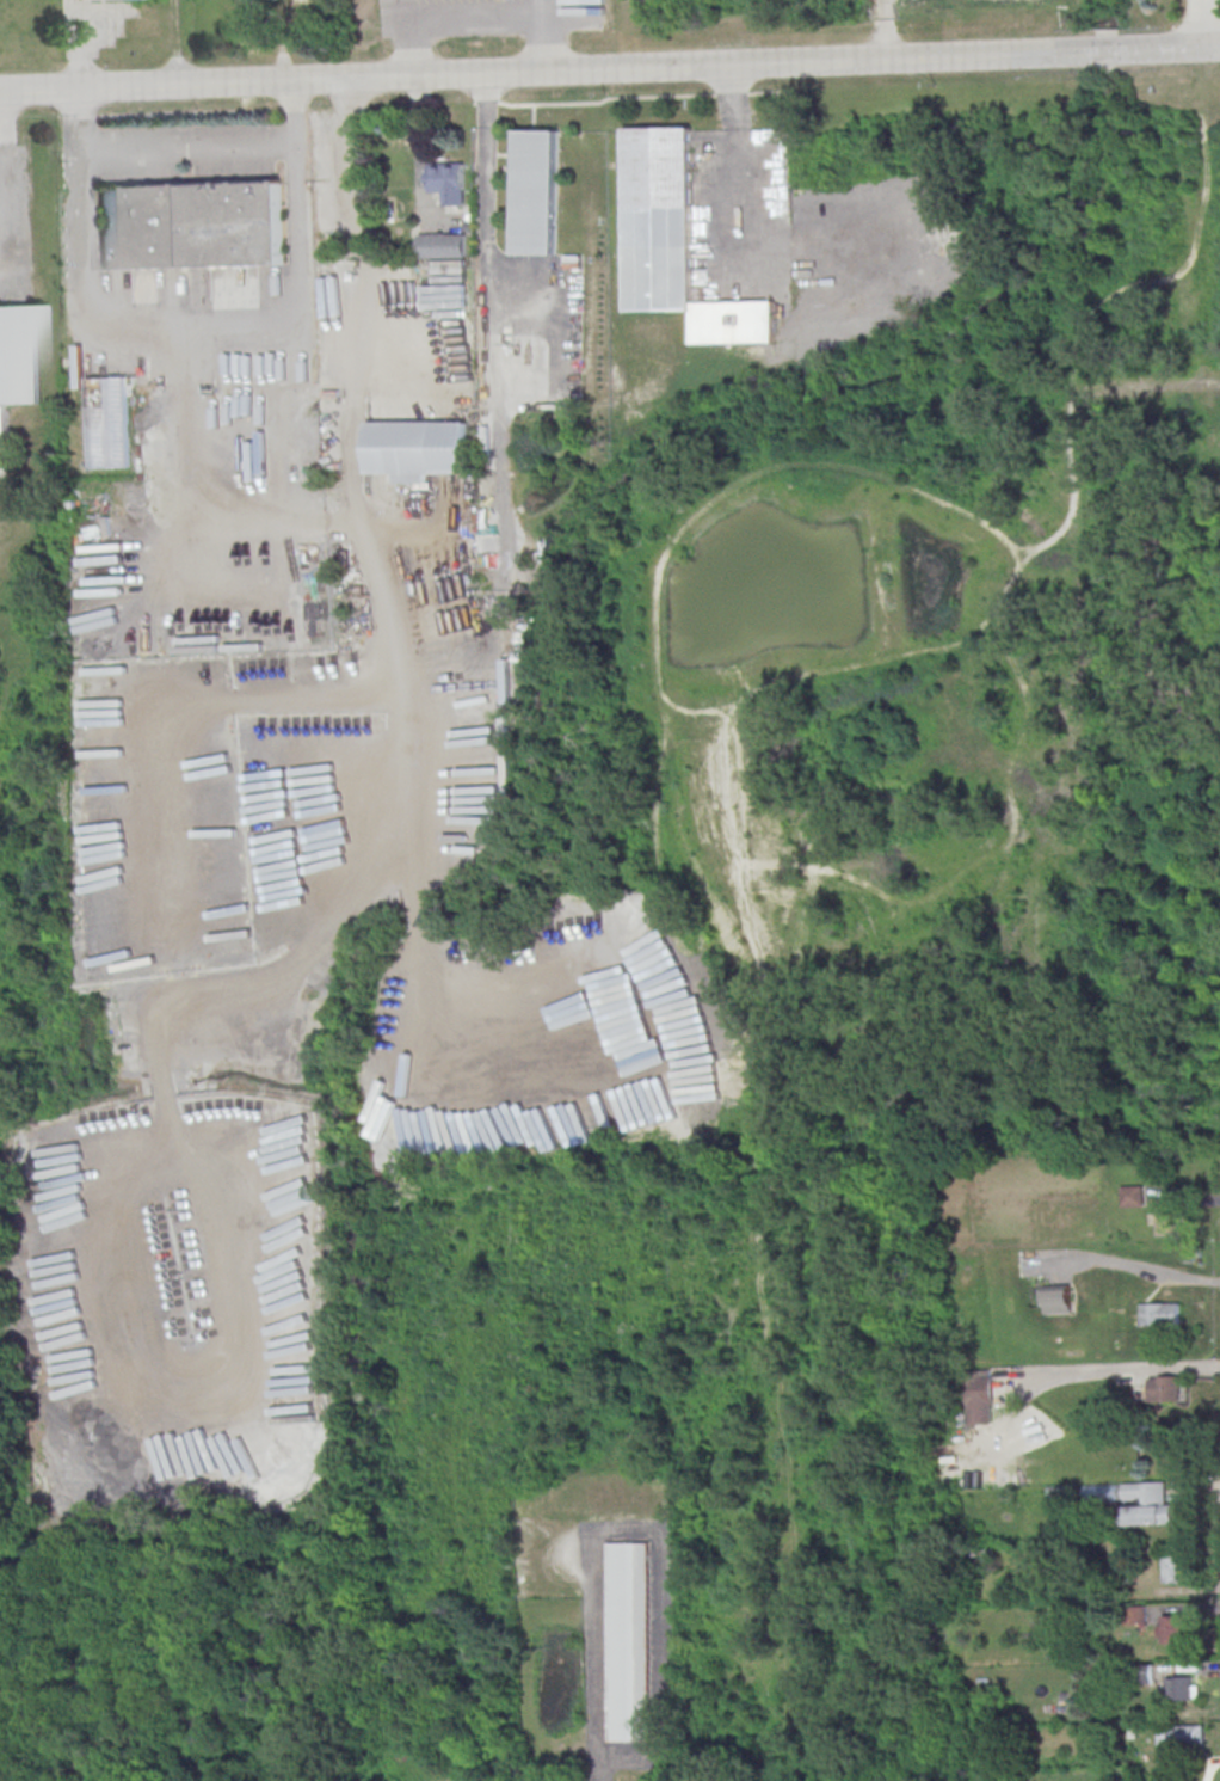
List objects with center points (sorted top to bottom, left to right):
road: (542, 5)
road: (402, 8)
road: (475, 13)
road: (1207, 24)
road: (1169, 48)
road: (559, 69)
road: (186, 151)
road: (420, 155)
road: (738, 177)
road: (4, 179)
building: (448, 182)
building: (535, 191)
parking lot: (741, 215)
building: (192, 223)
road: (486, 239)
building: (674, 241)
building: (442, 245)
road: (196, 319)
building: (18, 368)
building: (109, 422)
building: (417, 449)
road: (166, 842)
building: (1130, 1196)
building: (1162, 1223)
road: (1136, 1266)
building: (1158, 1313)
road: (1119, 1369)
building: (1163, 1388)
building: (979, 1396)
building: (1135, 1501)
building: (1173, 1567)
building: (1173, 1628)
building: (628, 1642)
building: (1181, 1688)
building: (1176, 1743)

